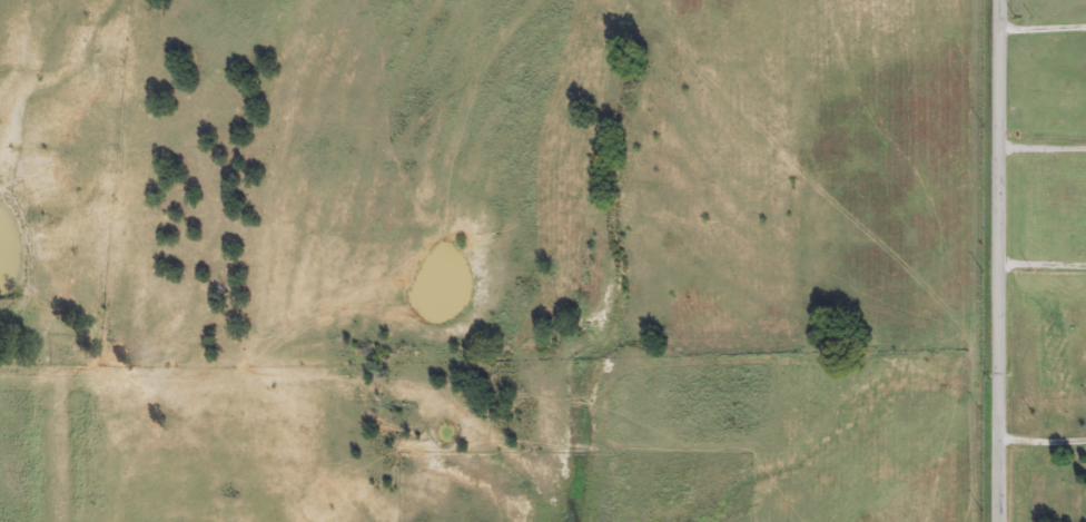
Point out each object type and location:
road: (1041, 28)
road: (1043, 149)
road: (999, 260)
road: (1043, 266)
road: (1044, 440)

